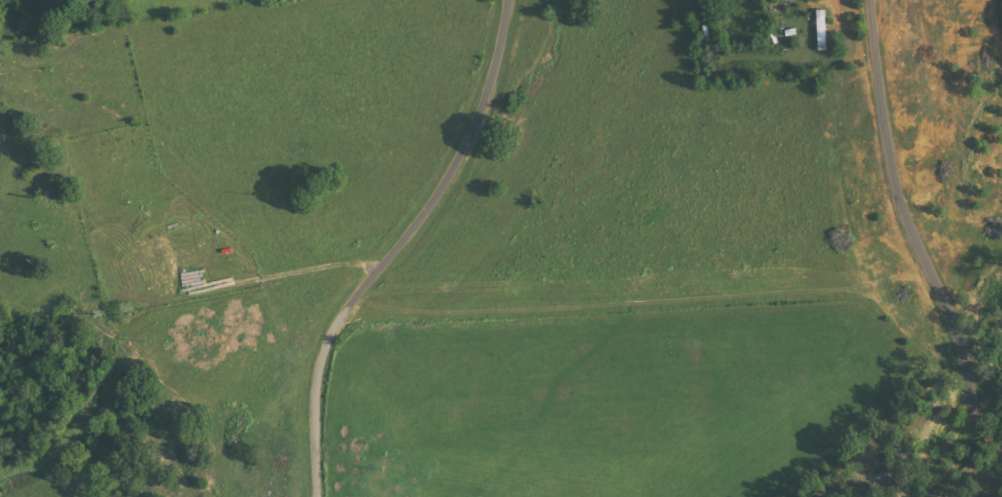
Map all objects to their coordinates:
building: (823, 30)
road: (342, 142)
road: (912, 236)
road: (97, 244)
road: (399, 246)

